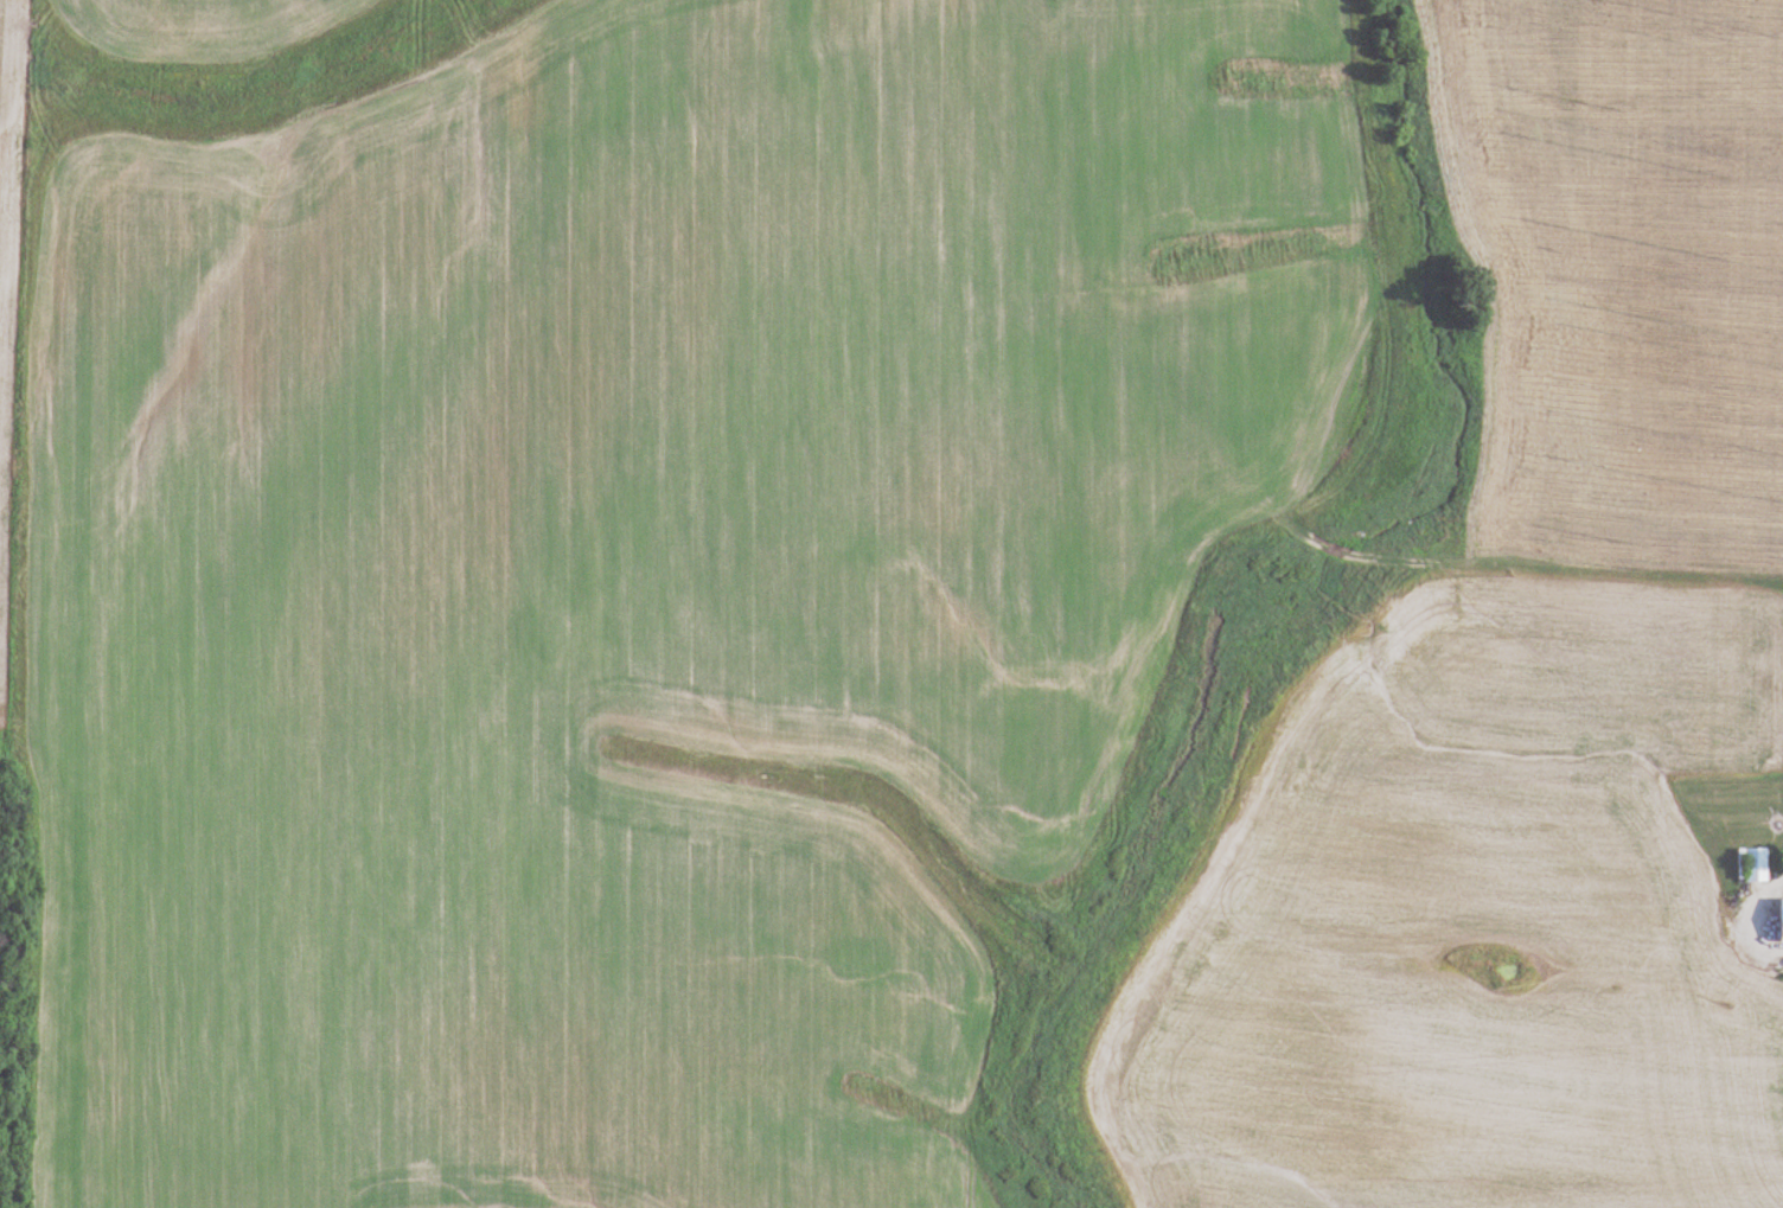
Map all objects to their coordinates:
building: (1753, 864)
building: (1782, 921)

